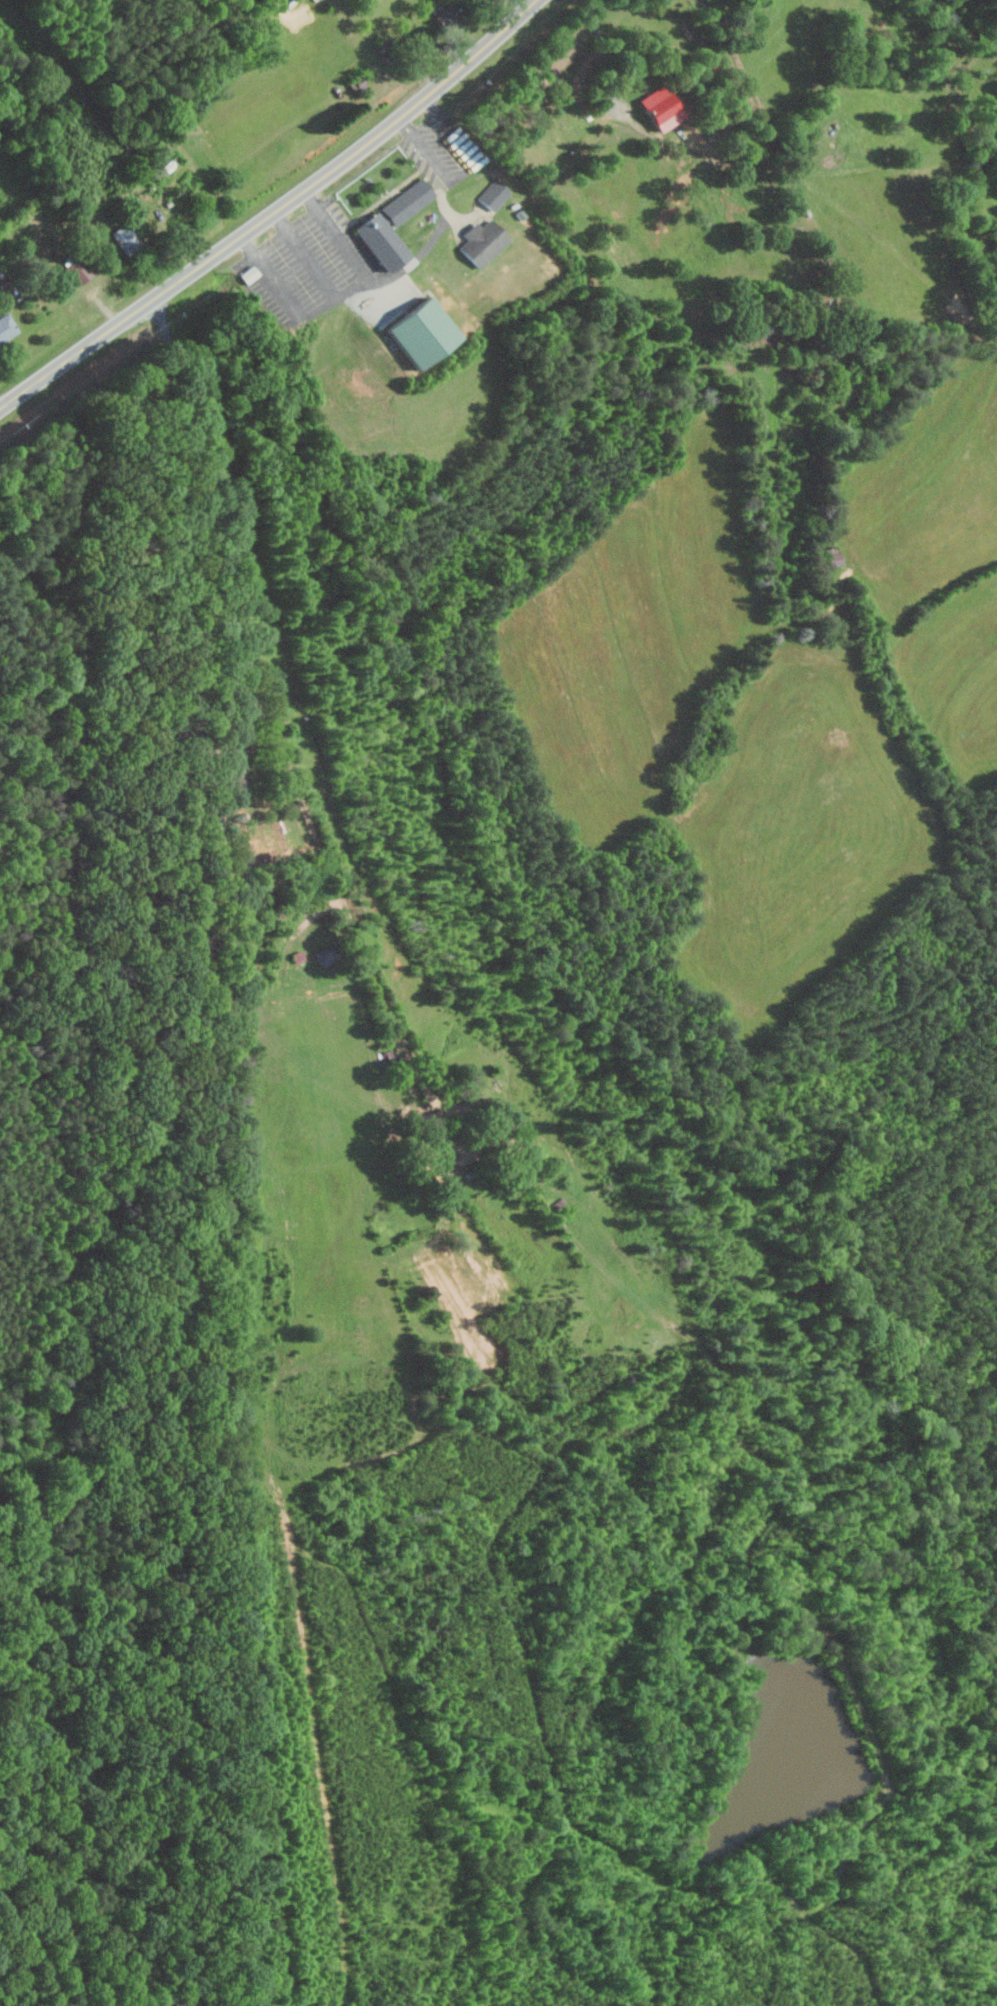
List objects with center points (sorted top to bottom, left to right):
road: (602, 55)
building: (661, 106)
road: (467, 170)
building: (493, 193)
road: (274, 213)
building: (391, 223)
building: (482, 241)
road: (306, 255)
building: (80, 268)
road: (338, 295)
building: (6, 325)
building: (419, 330)
building: (830, 556)
road: (275, 725)
building: (233, 775)
building: (298, 955)
building: (324, 955)

